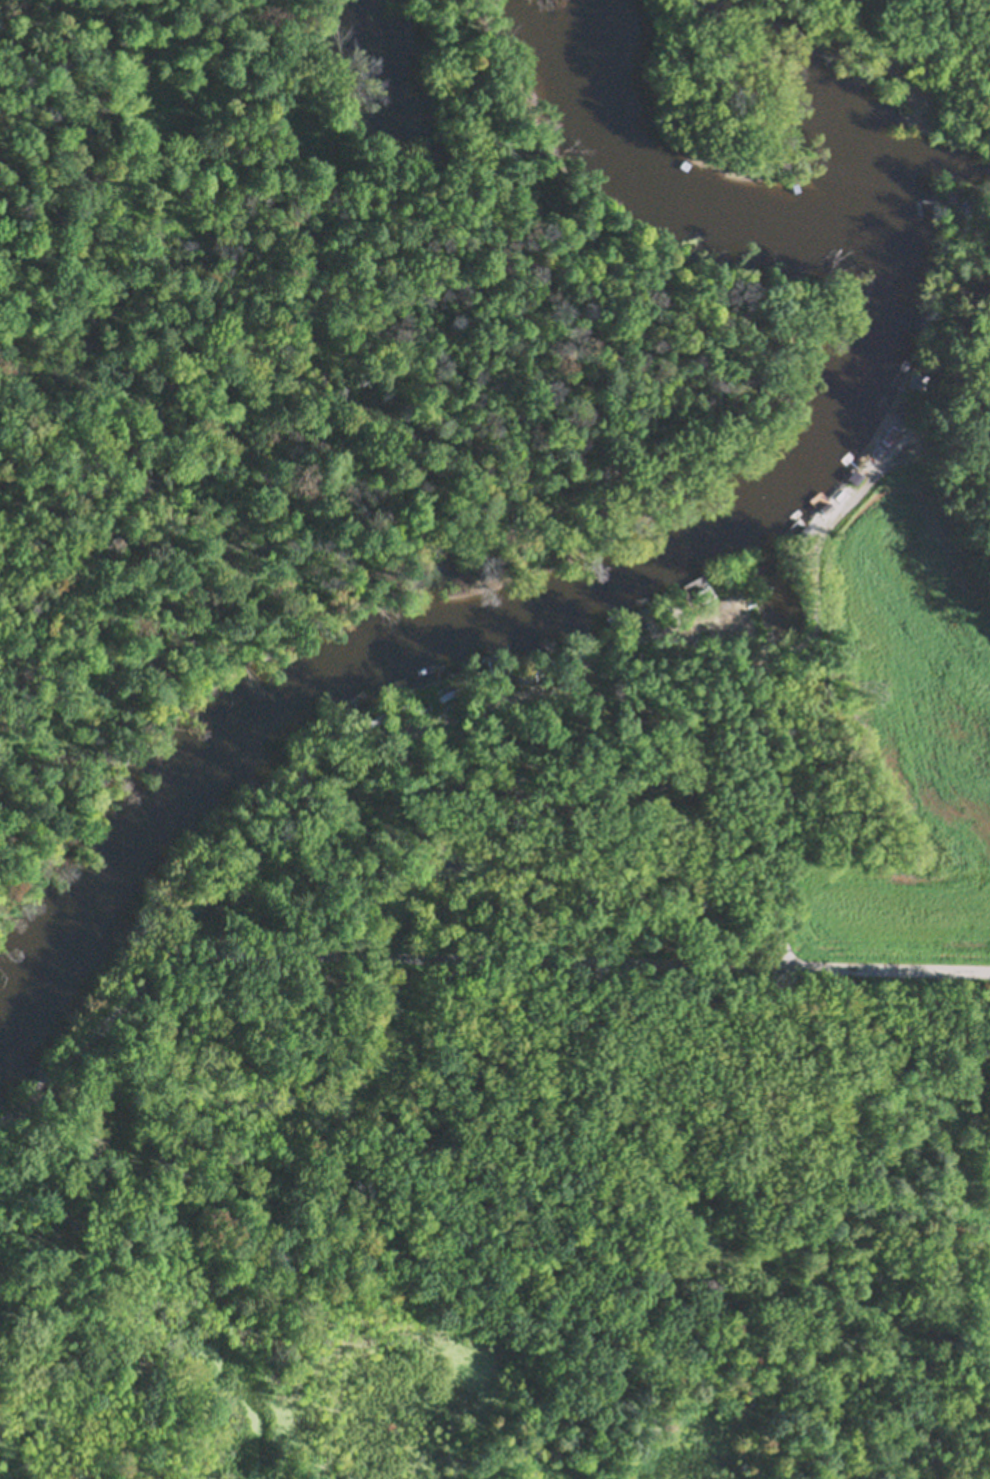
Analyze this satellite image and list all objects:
road: (950, 53)
building: (951, 186)
building: (966, 201)
building: (961, 205)
building: (914, 375)
building: (905, 406)
building: (885, 428)
building: (912, 461)
building: (853, 473)
building: (826, 503)
road: (841, 528)
building: (802, 529)
river: (662, 543)
building: (728, 567)
building: (701, 590)
building: (665, 610)
building: (633, 622)
building: (580, 649)
building: (557, 657)
building: (526, 673)
building: (478, 685)
building: (445, 690)
building: (413, 705)
building: (378, 714)
building: (355, 736)
road: (758, 747)
building: (303, 777)
road: (463, 961)

